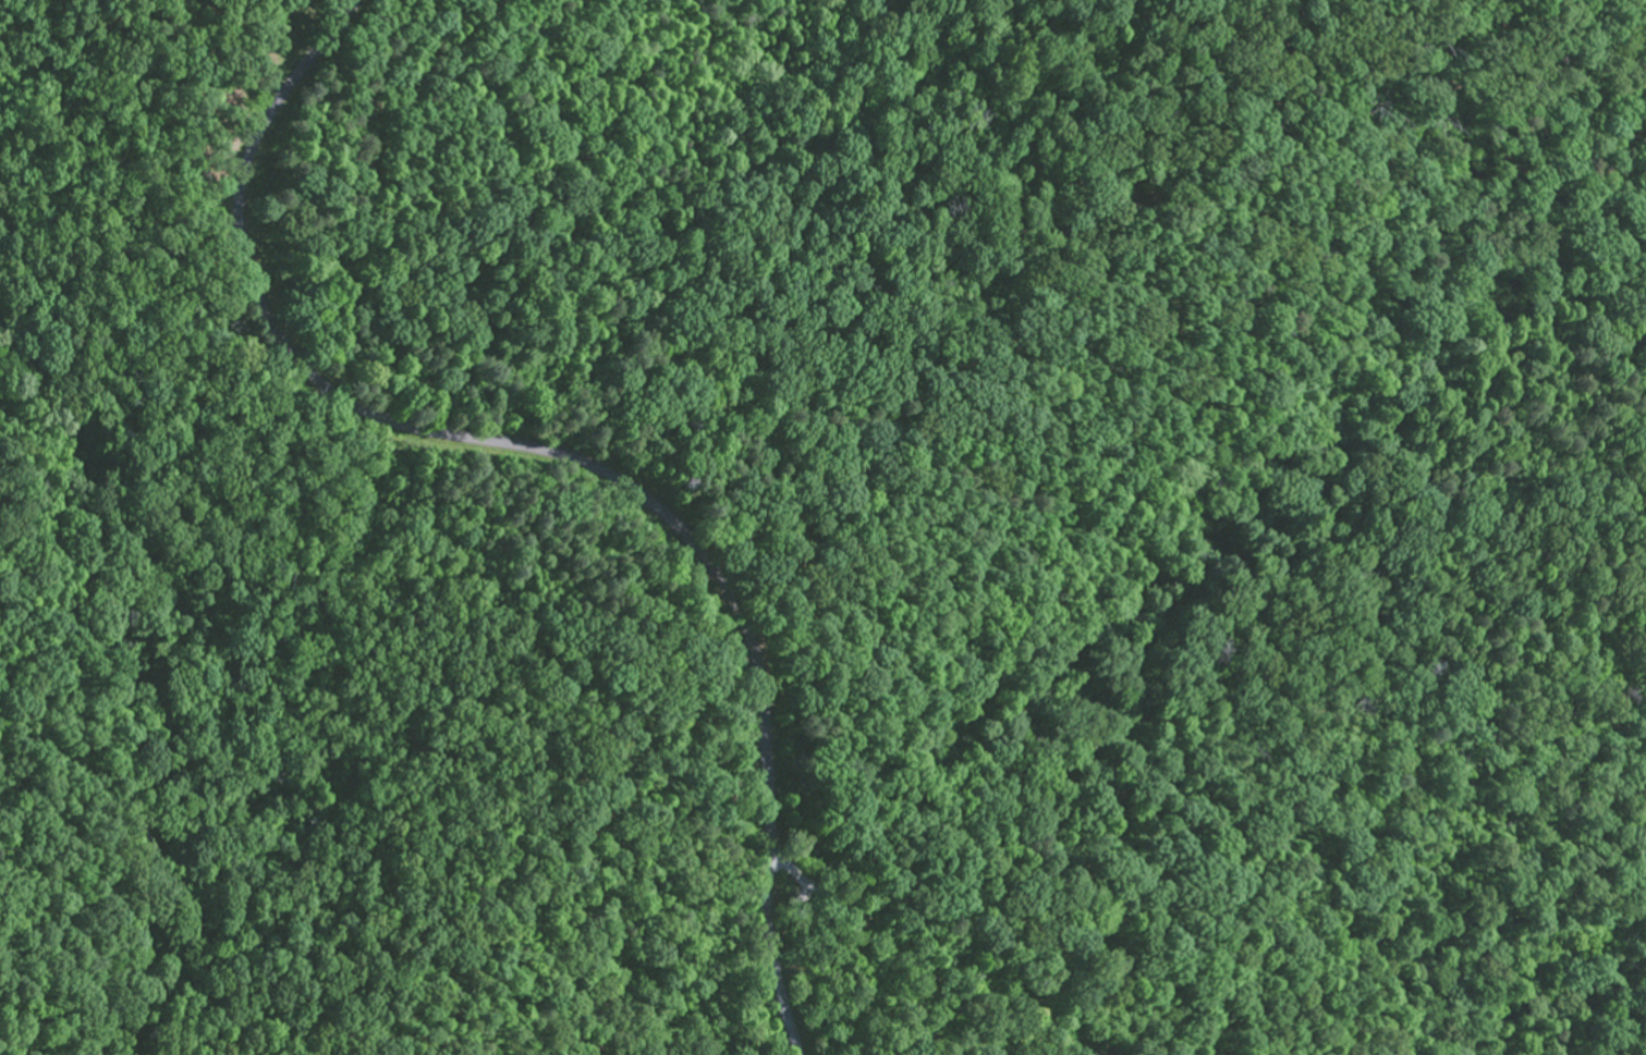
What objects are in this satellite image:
road: (553, 457)
park: (822, 527)

